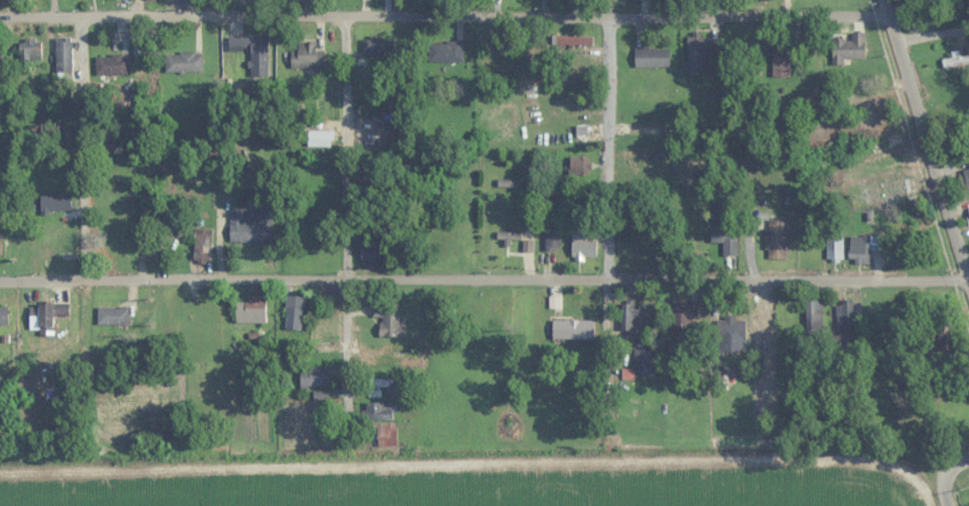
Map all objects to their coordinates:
road: (444, 14)
building: (919, 26)
road: (932, 34)
building: (576, 40)
building: (378, 45)
building: (848, 48)
building: (29, 49)
building: (447, 52)
building: (252, 53)
building: (696, 53)
building: (63, 56)
building: (306, 57)
building: (651, 58)
building: (781, 62)
building: (183, 63)
building: (110, 65)
building: (641, 130)
building: (886, 133)
building: (572, 135)
road: (926, 143)
road: (78, 148)
building: (641, 158)
building: (579, 166)
building: (887, 191)
building: (55, 204)
building: (968, 212)
building: (720, 220)
building: (250, 226)
building: (508, 236)
building: (552, 237)
road: (608, 239)
building: (775, 239)
road: (348, 241)
building: (584, 244)
building: (202, 246)
building: (834, 246)
building: (0, 247)
building: (370, 251)
road: (482, 279)
building: (250, 311)
building: (293, 313)
building: (681, 313)
building: (3, 315)
building: (629, 315)
building: (112, 316)
building: (45, 317)
building: (389, 320)
building: (572, 329)
building: (731, 335)
building: (843, 347)
building: (641, 364)
building: (315, 377)
building: (384, 387)
building: (379, 411)
building: (383, 434)
road: (476, 464)
road: (948, 476)

